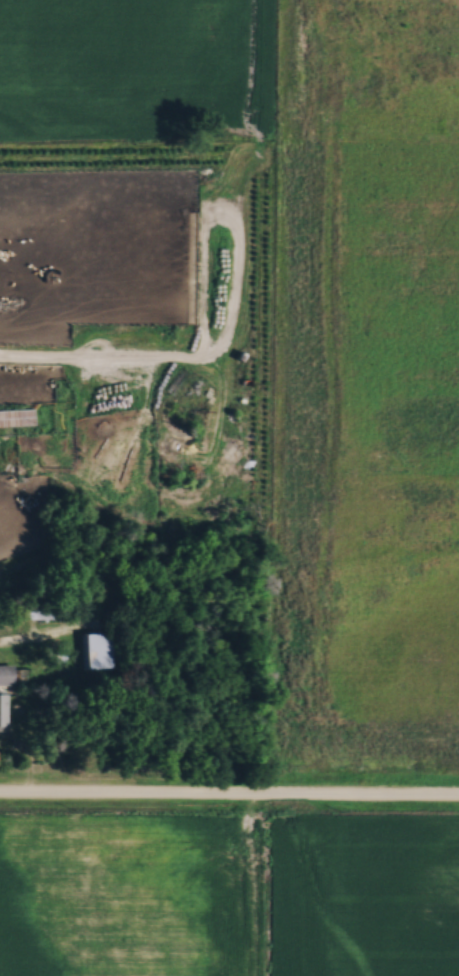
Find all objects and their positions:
building: (16, 417)
road: (49, 633)
building: (98, 649)
building: (5, 674)
building: (2, 711)
road: (229, 794)

